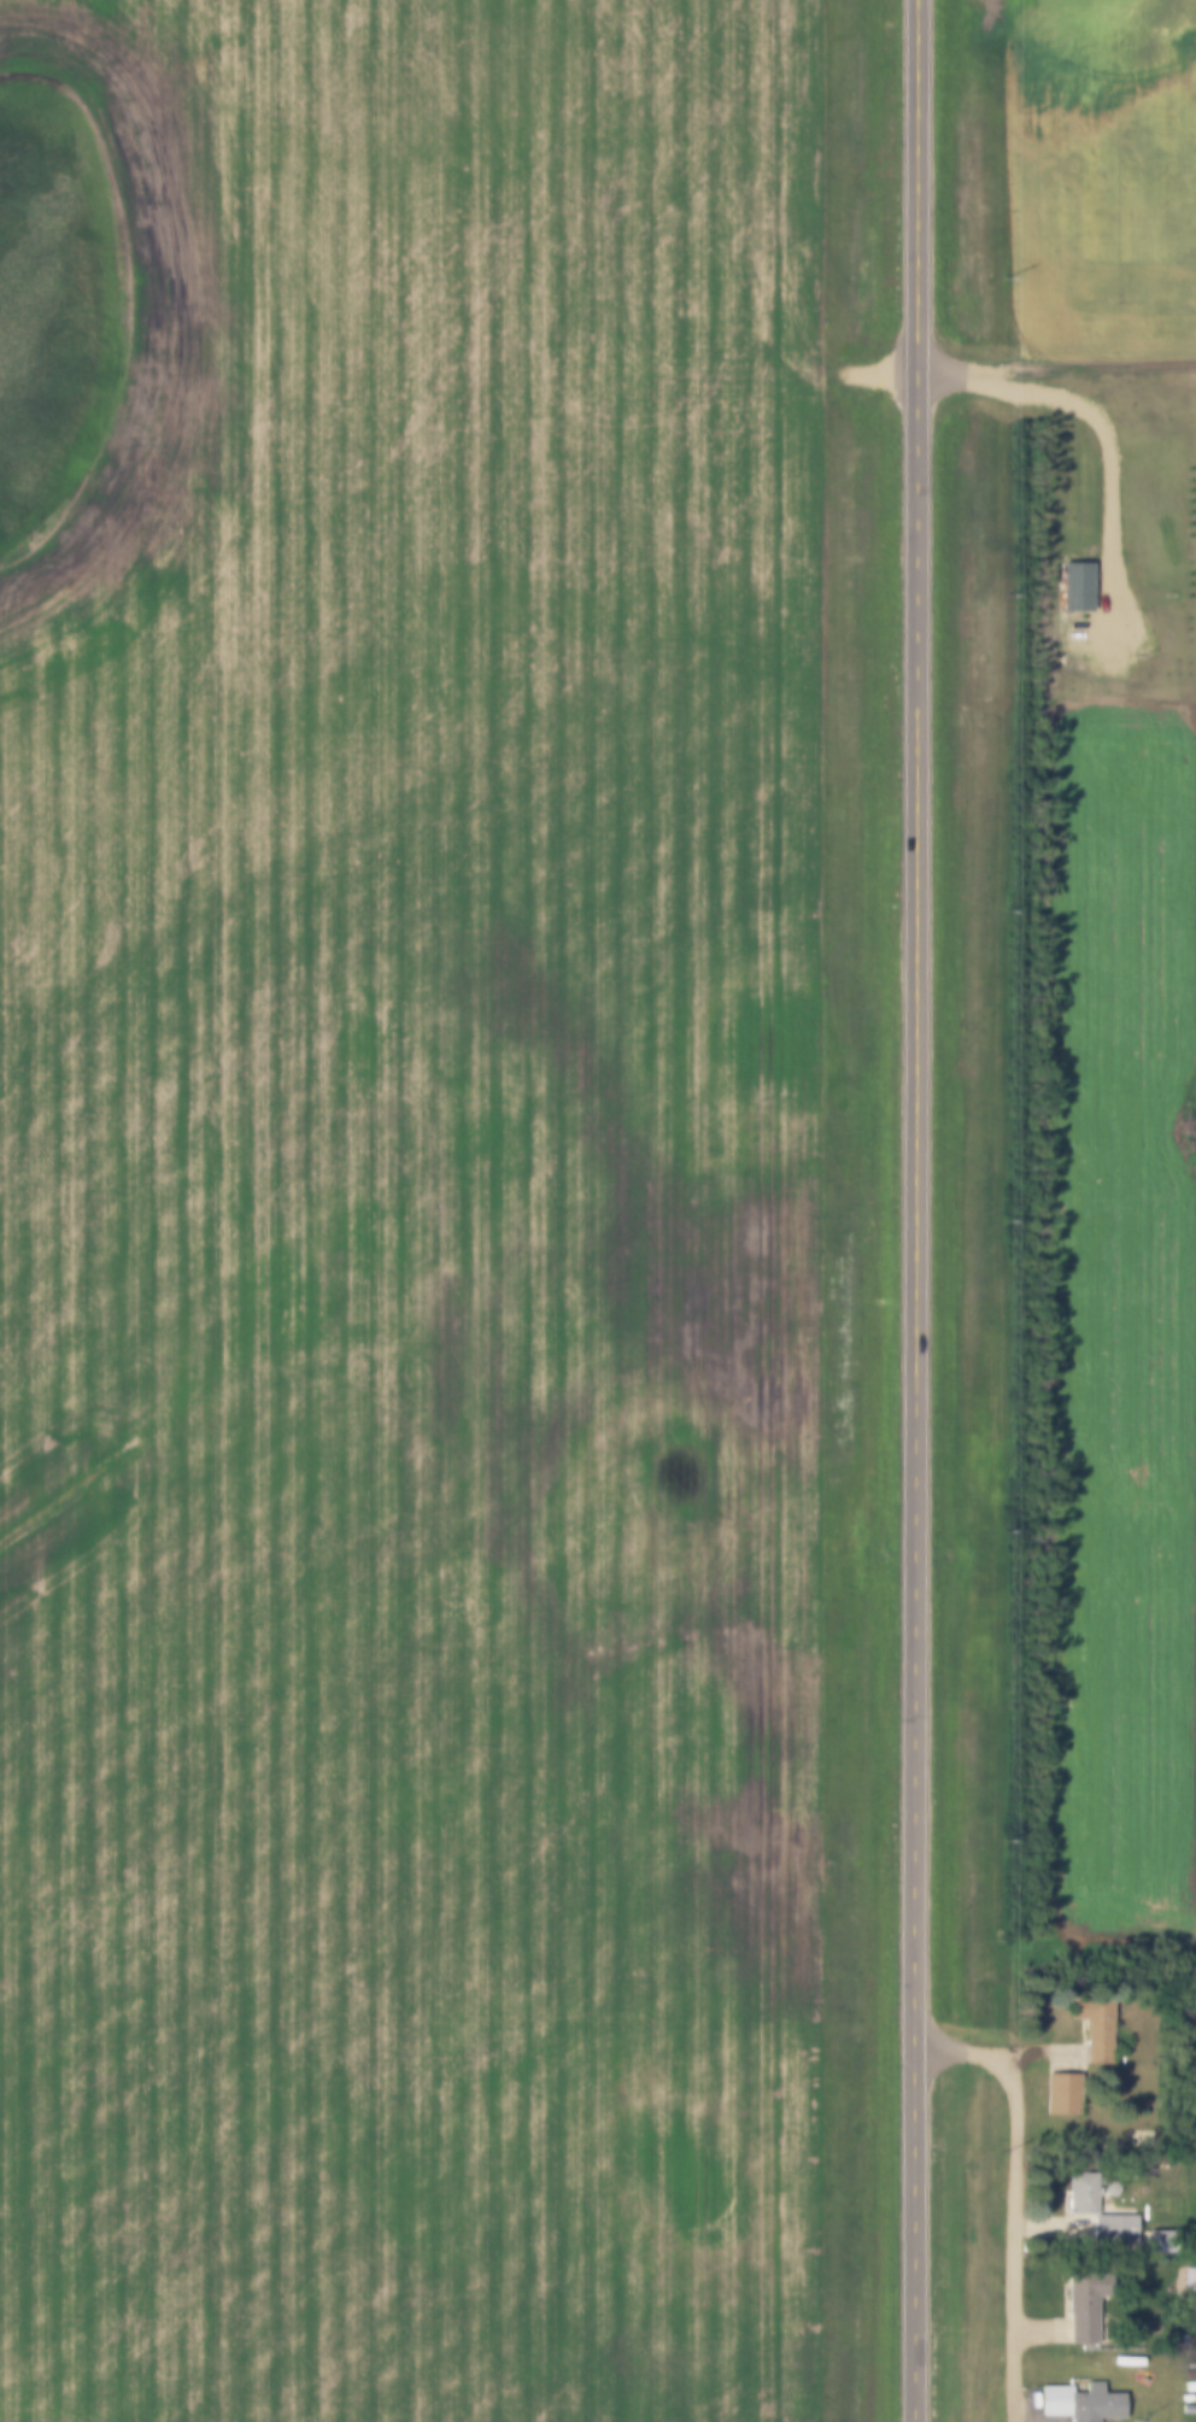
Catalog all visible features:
road: (911, 1210)
building: (1096, 2028)
building: (1062, 2095)
building: (1083, 2194)
road: (1015, 2195)
building: (1085, 2306)
building: (1083, 2403)

